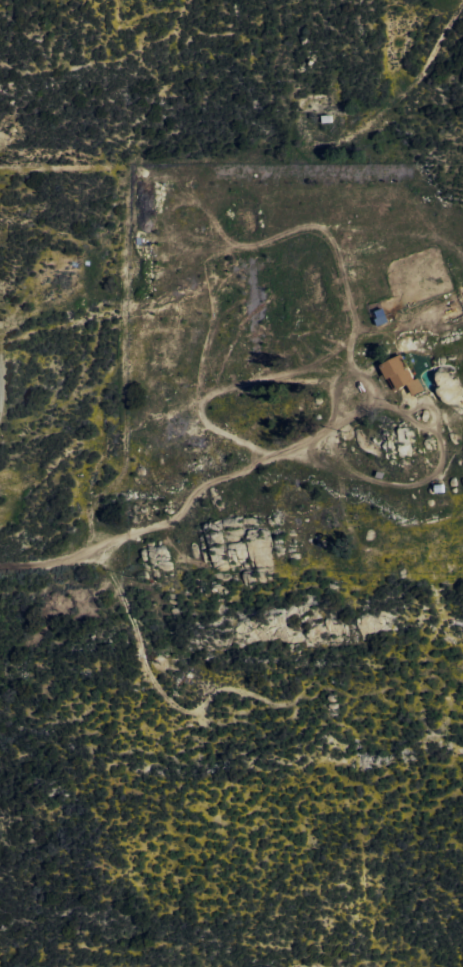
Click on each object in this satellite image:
building: (402, 375)

